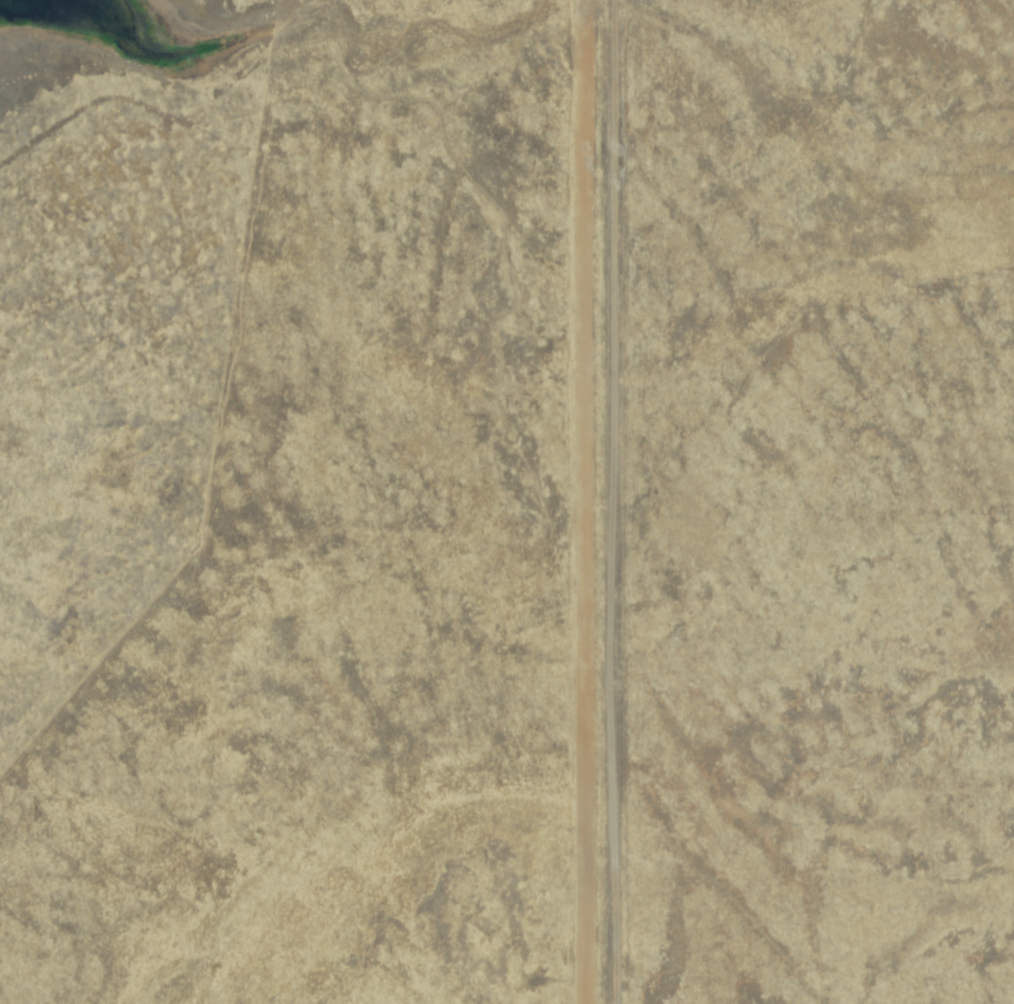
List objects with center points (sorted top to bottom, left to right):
airport: (306, 502)
road: (600, 502)

